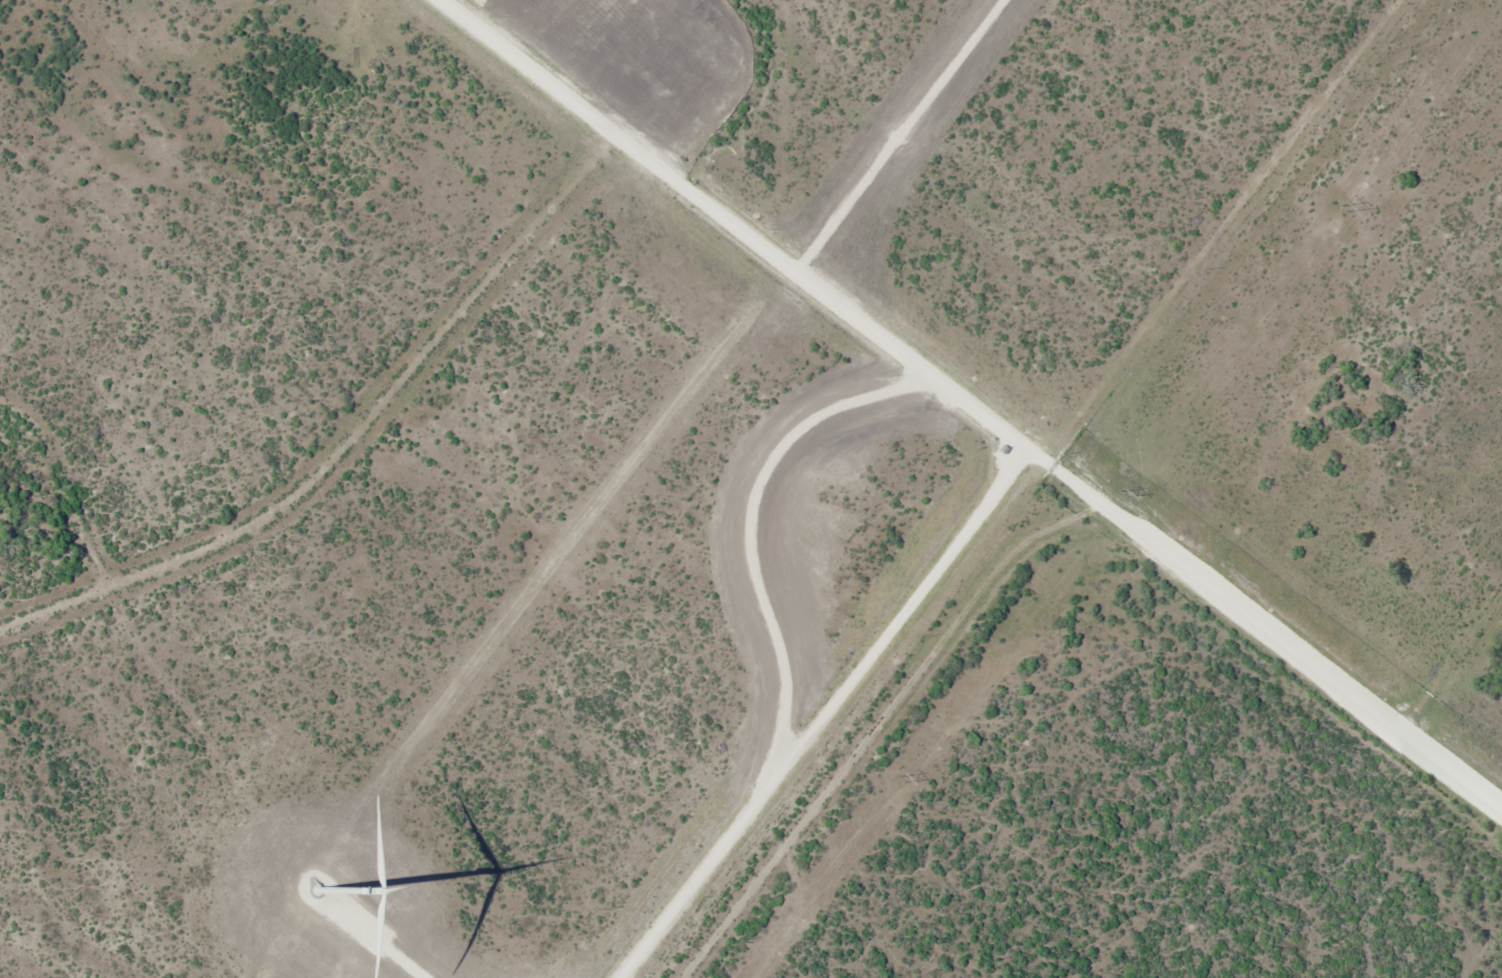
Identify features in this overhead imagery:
power tower: (1342, 209)
road: (971, 408)
road: (366, 457)
power tower: (1124, 494)
road: (880, 722)
power tower: (901, 779)
wind turbine: (326, 874)

